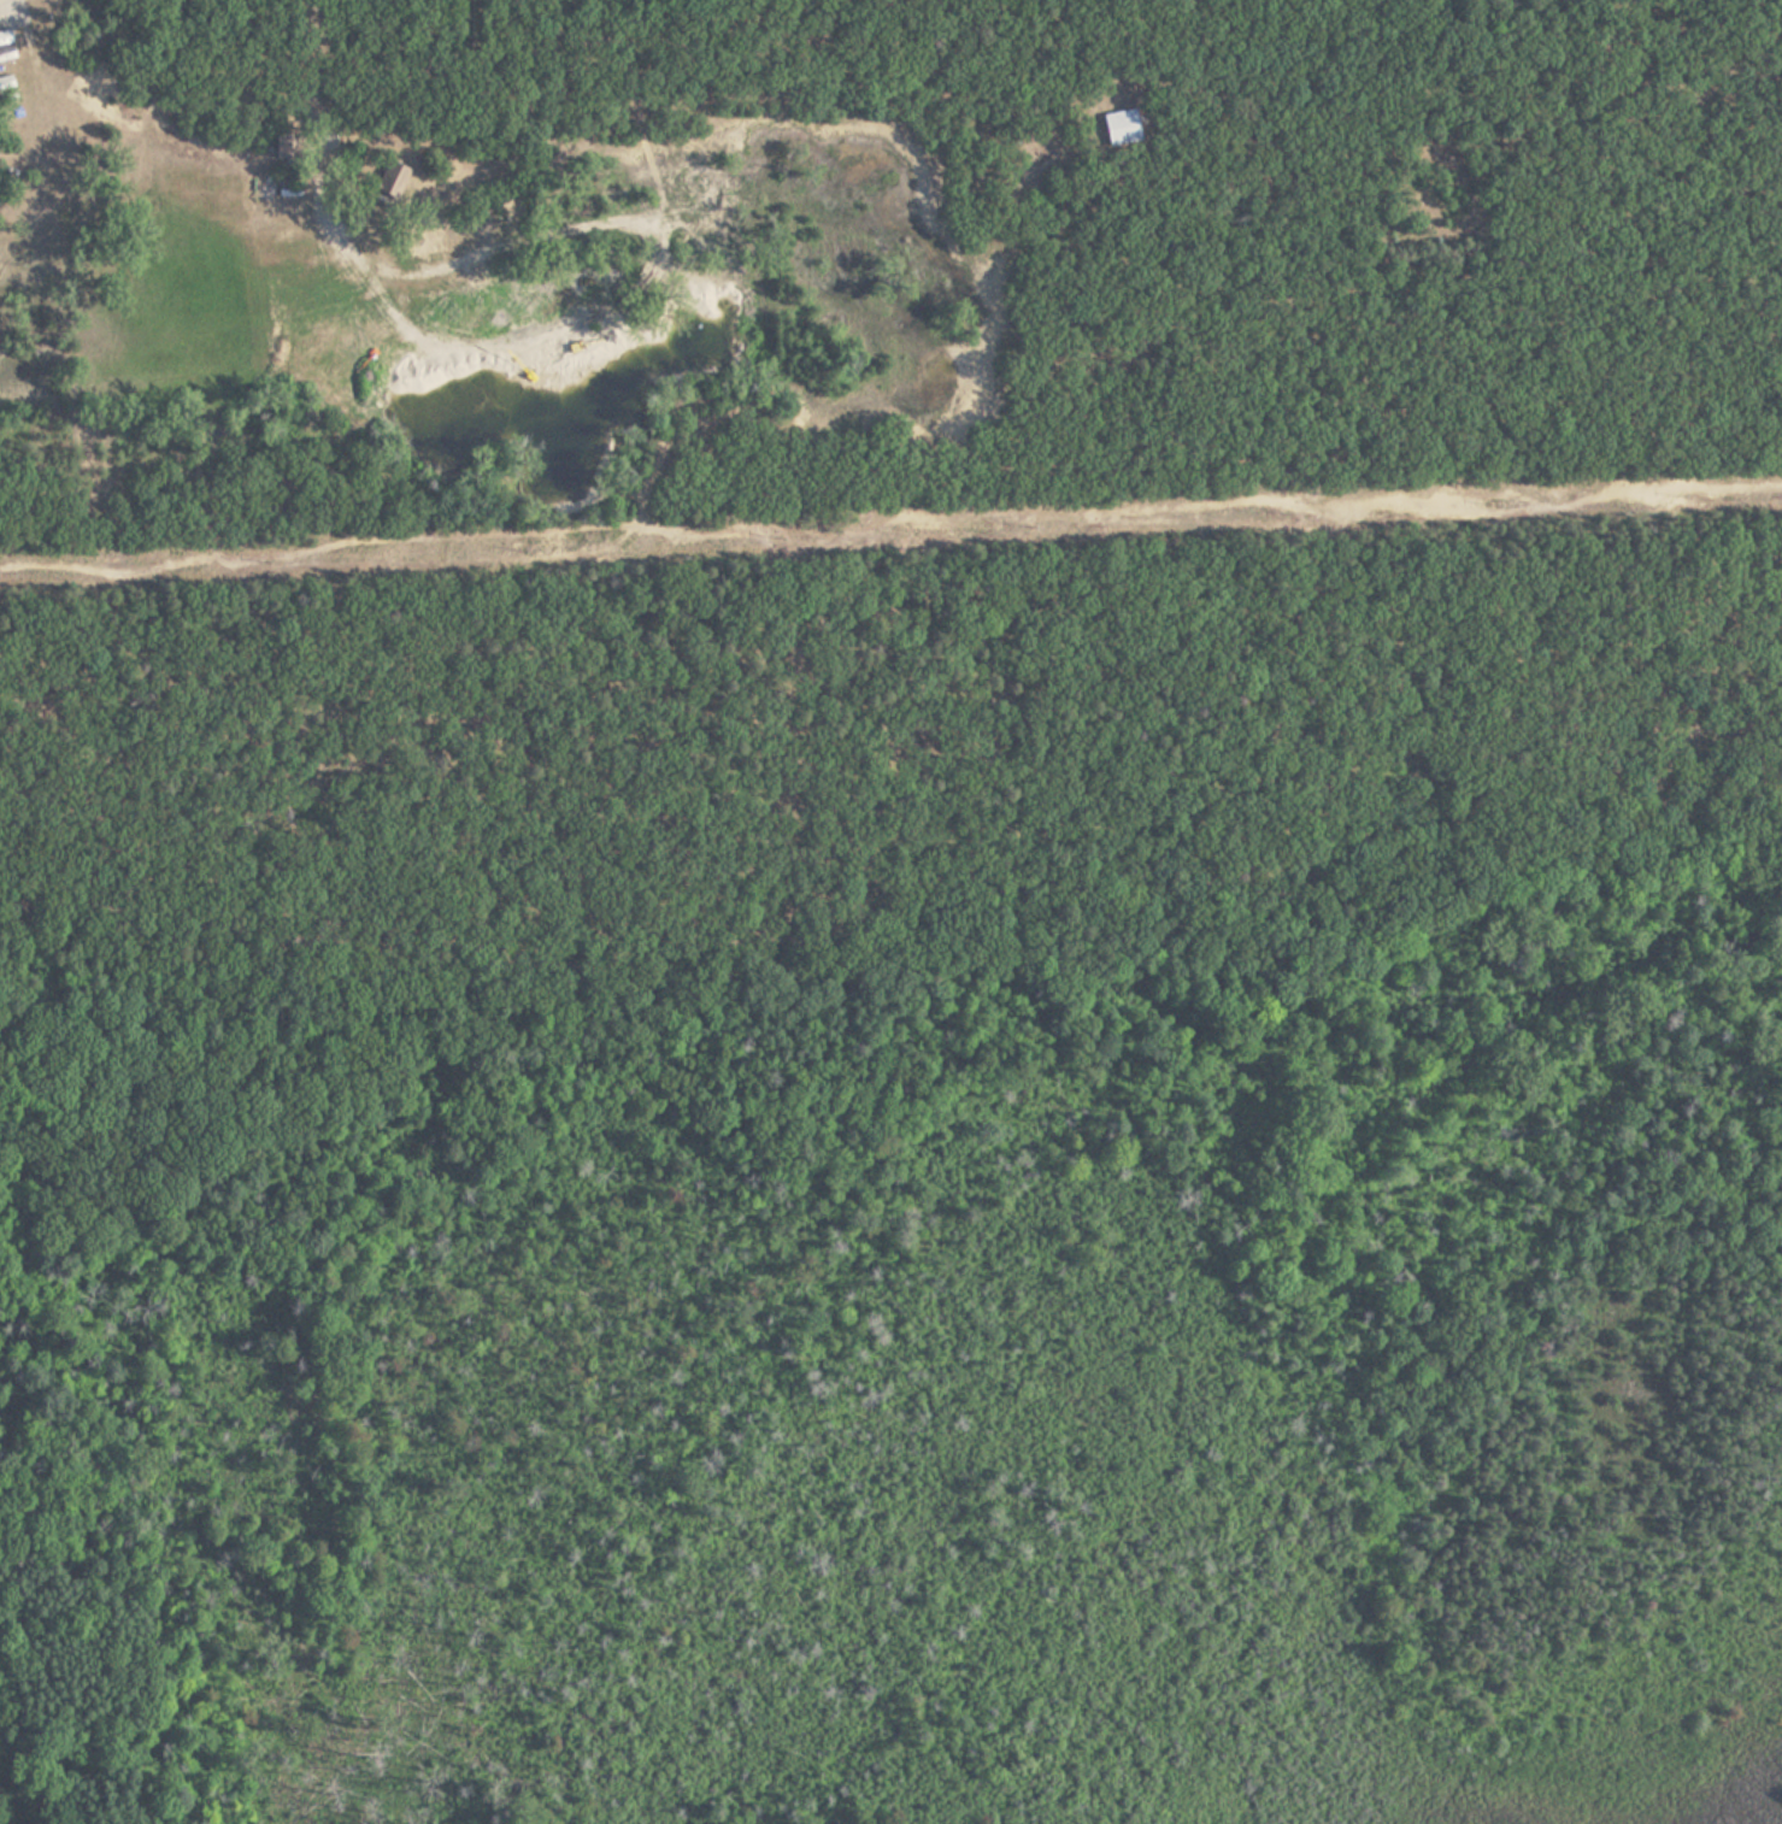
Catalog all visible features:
building: (6, 47)
building: (1121, 125)
building: (282, 147)
building: (389, 184)
road: (890, 529)
road: (900, 922)

